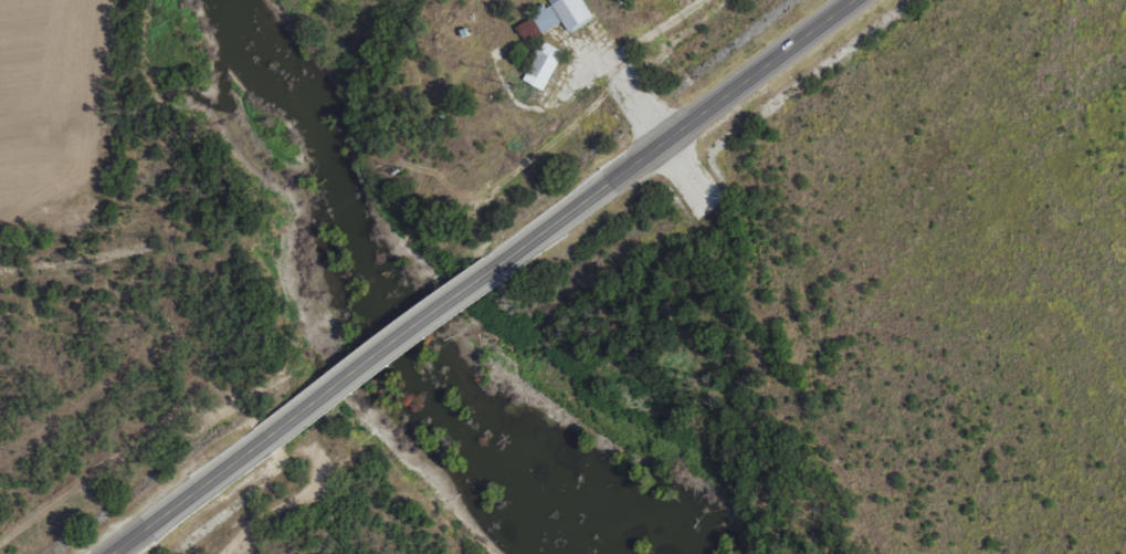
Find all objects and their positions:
building: (555, 18)
building: (541, 65)
road: (686, 140)
road: (52, 252)
river: (382, 295)
road: (376, 374)
road: (194, 510)

